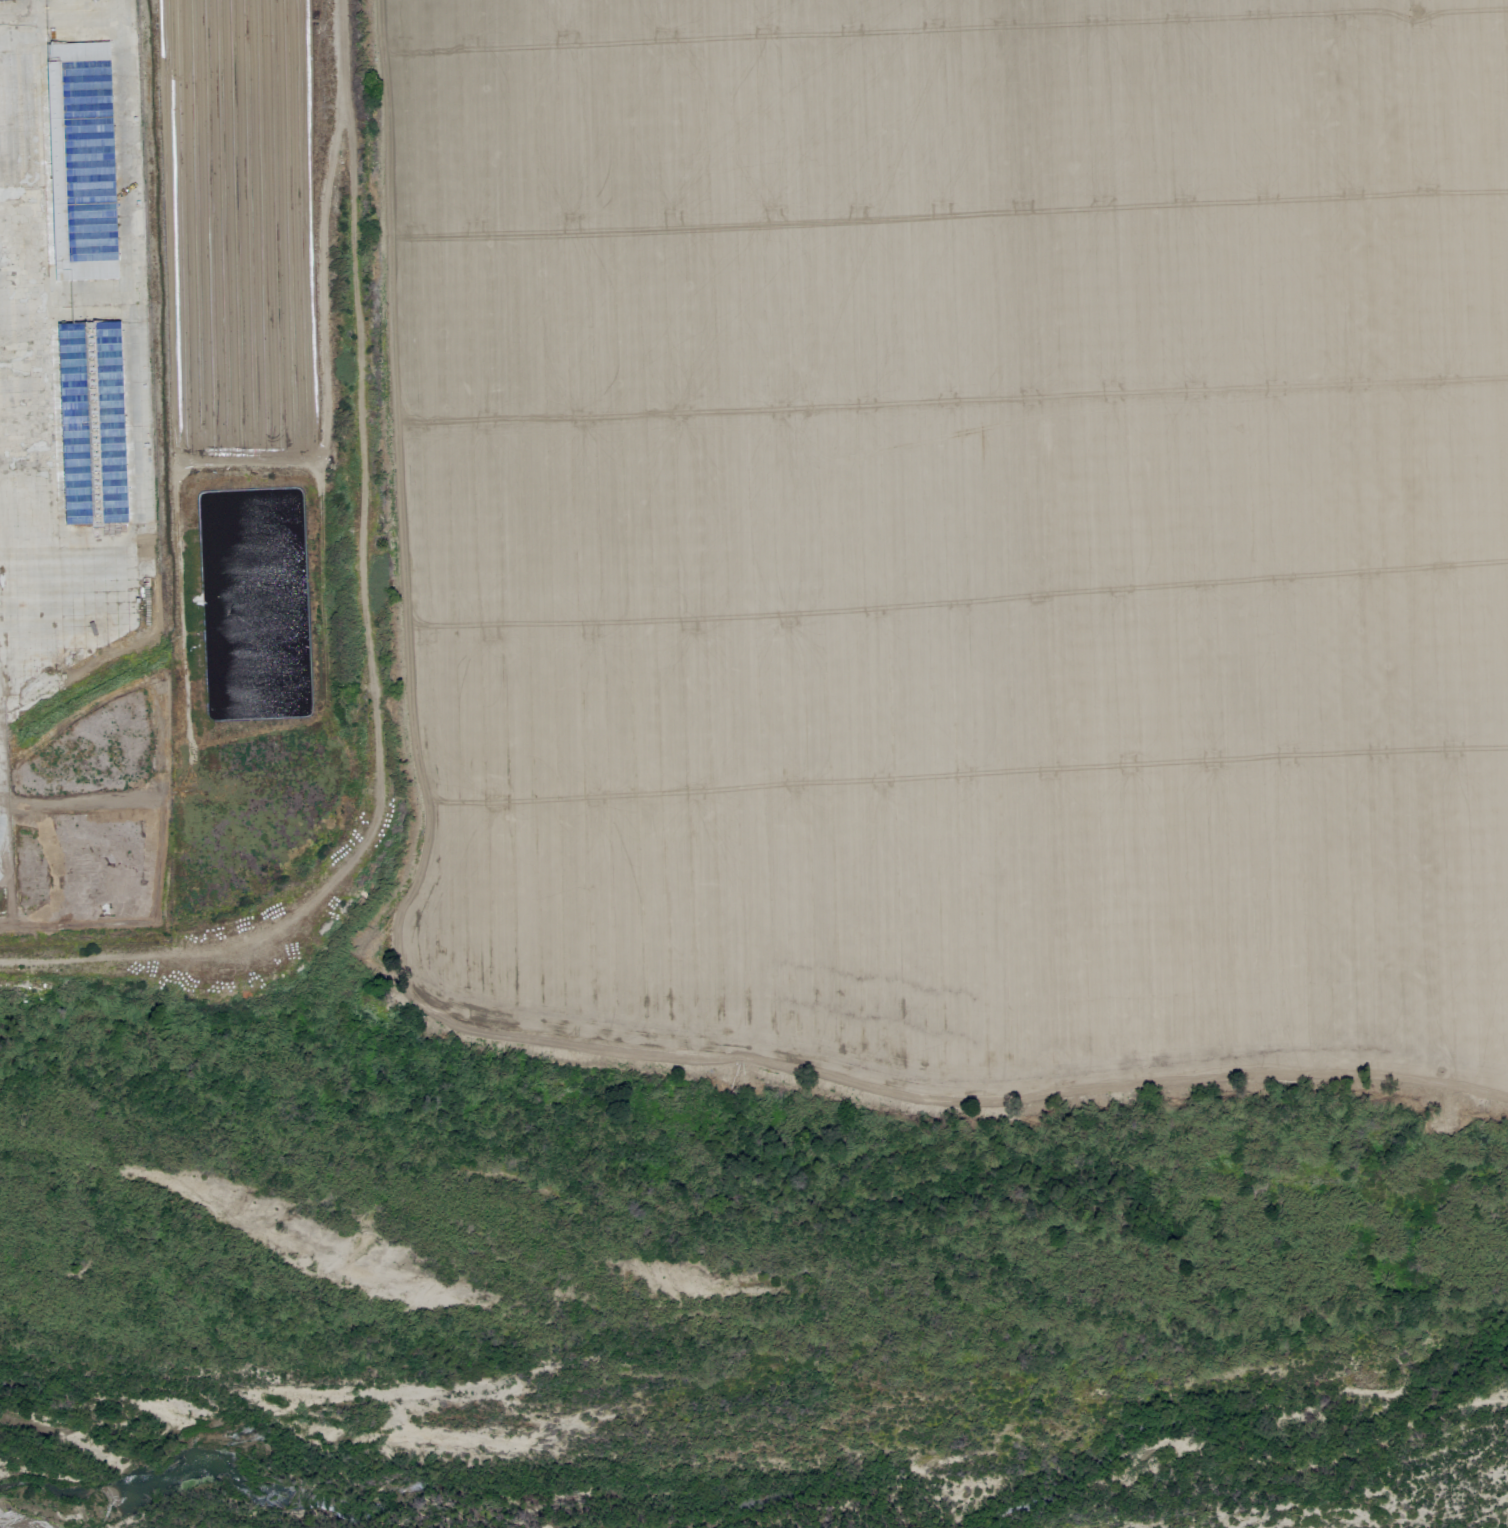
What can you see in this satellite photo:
road: (32, 286)
crop: (776, 527)
road: (369, 626)
road: (0, 896)

